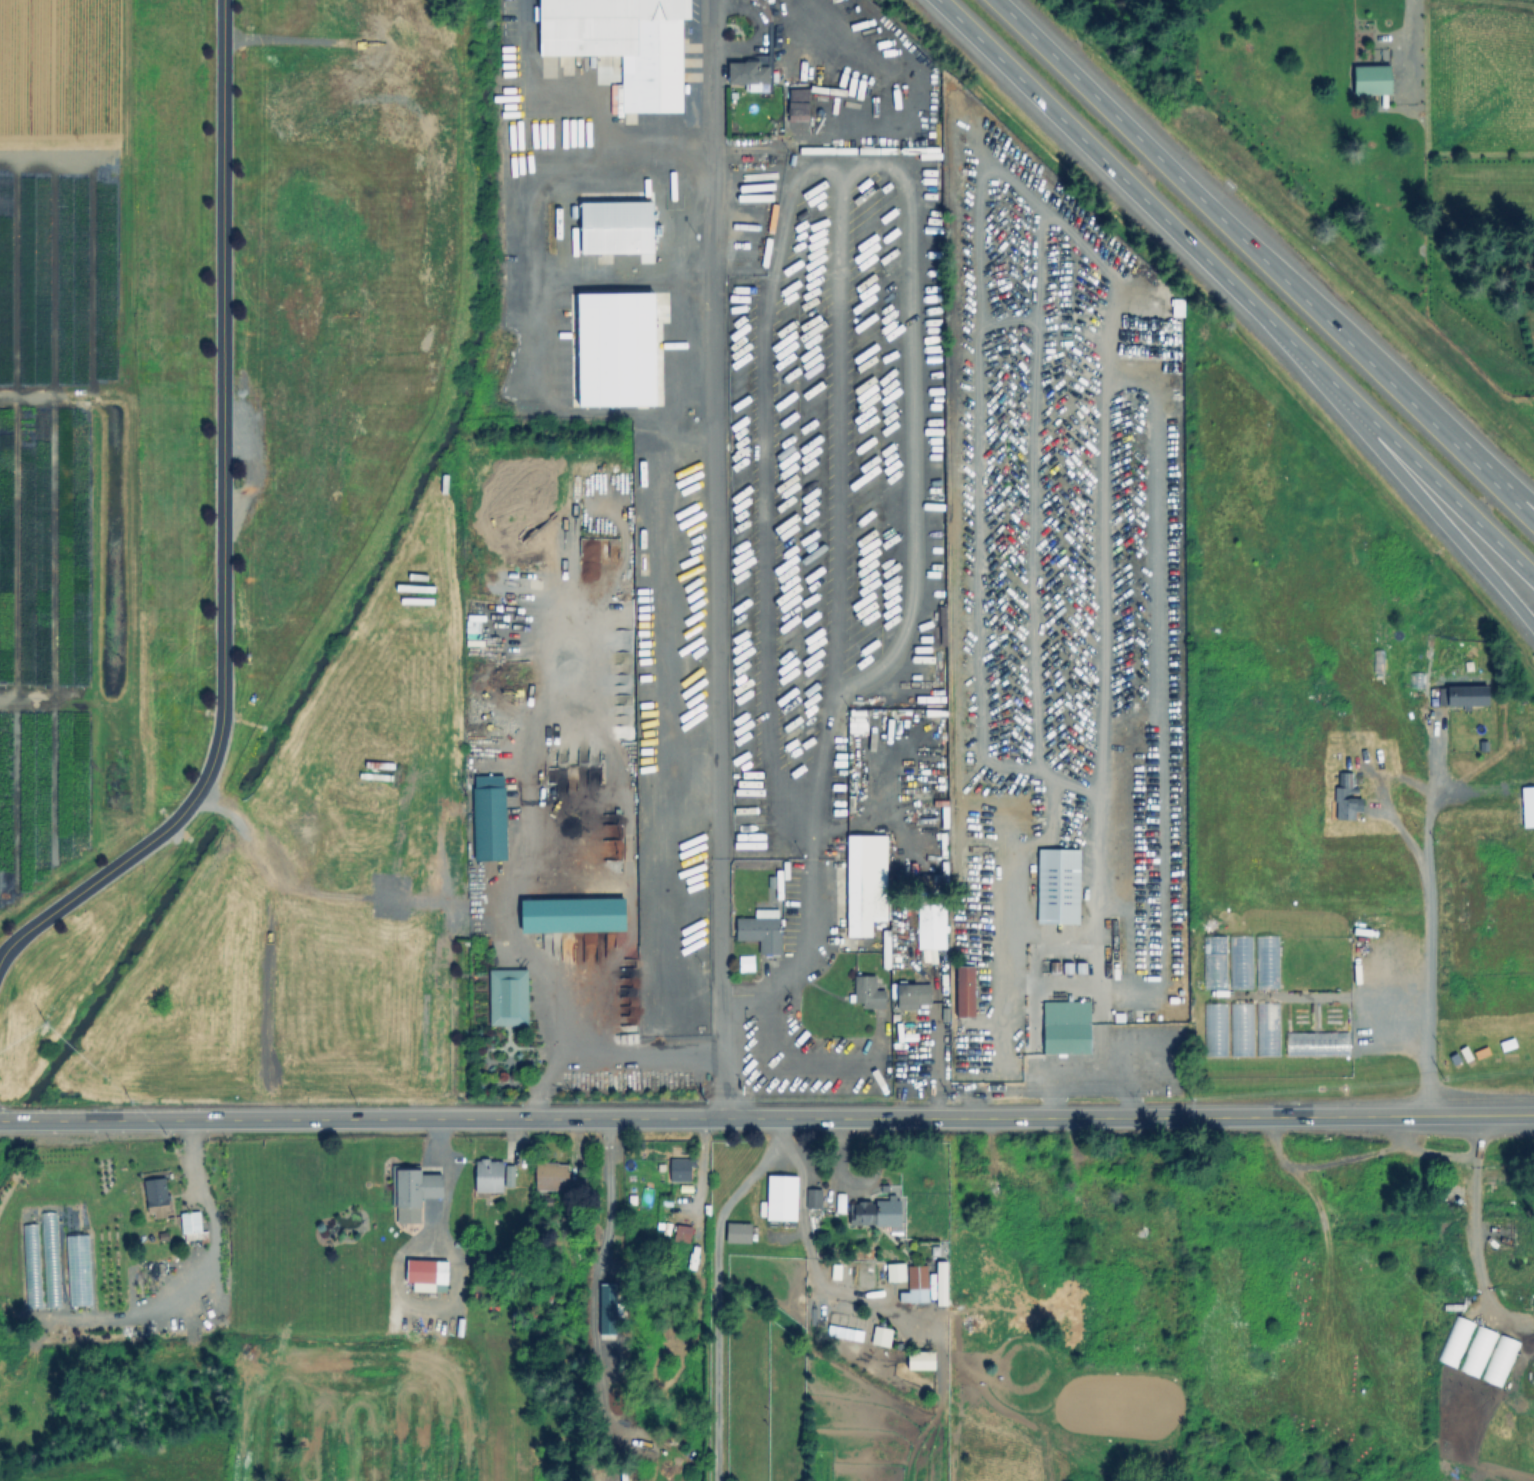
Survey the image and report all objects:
building: (625, 43)
building: (747, 70)
building: (1371, 78)
building: (797, 103)
road: (572, 114)
building: (617, 224)
road: (1265, 260)
road: (537, 271)
road: (1236, 288)
building: (1177, 308)
building: (615, 348)
road: (565, 410)
road: (1513, 487)
road: (1440, 519)
road: (223, 525)
road: (714, 558)
building: (879, 682)
building: (1464, 696)
road: (1050, 795)
building: (1341, 797)
building: (1528, 806)
road: (1385, 807)
building: (490, 817)
building: (866, 883)
building: (926, 883)
building: (1058, 885)
building: (575, 916)
building: (933, 926)
road: (1427, 928)
building: (764, 930)
road: (545, 969)
building: (967, 990)
building: (870, 992)
building: (915, 995)
building: (510, 996)
building: (1061, 1028)
road: (645, 1055)
road: (1091, 1077)
road: (541, 1079)
road: (767, 1116)
building: (968, 1165)
building: (682, 1169)
building: (494, 1176)
building: (554, 1177)
building: (1108, 1179)
building: (416, 1186)
building: (159, 1196)
building: (781, 1198)
building: (815, 1198)
building: (1077, 1203)
road: (1481, 1206)
building: (869, 1214)
building: (193, 1225)
building: (685, 1234)
building: (741, 1234)
building: (427, 1274)
building: (896, 1274)
road: (593, 1280)
building: (940, 1282)
building: (920, 1283)
road: (718, 1289)
building: (606, 1308)
road: (1511, 1314)
building: (841, 1331)
building: (880, 1335)
building: (922, 1359)

